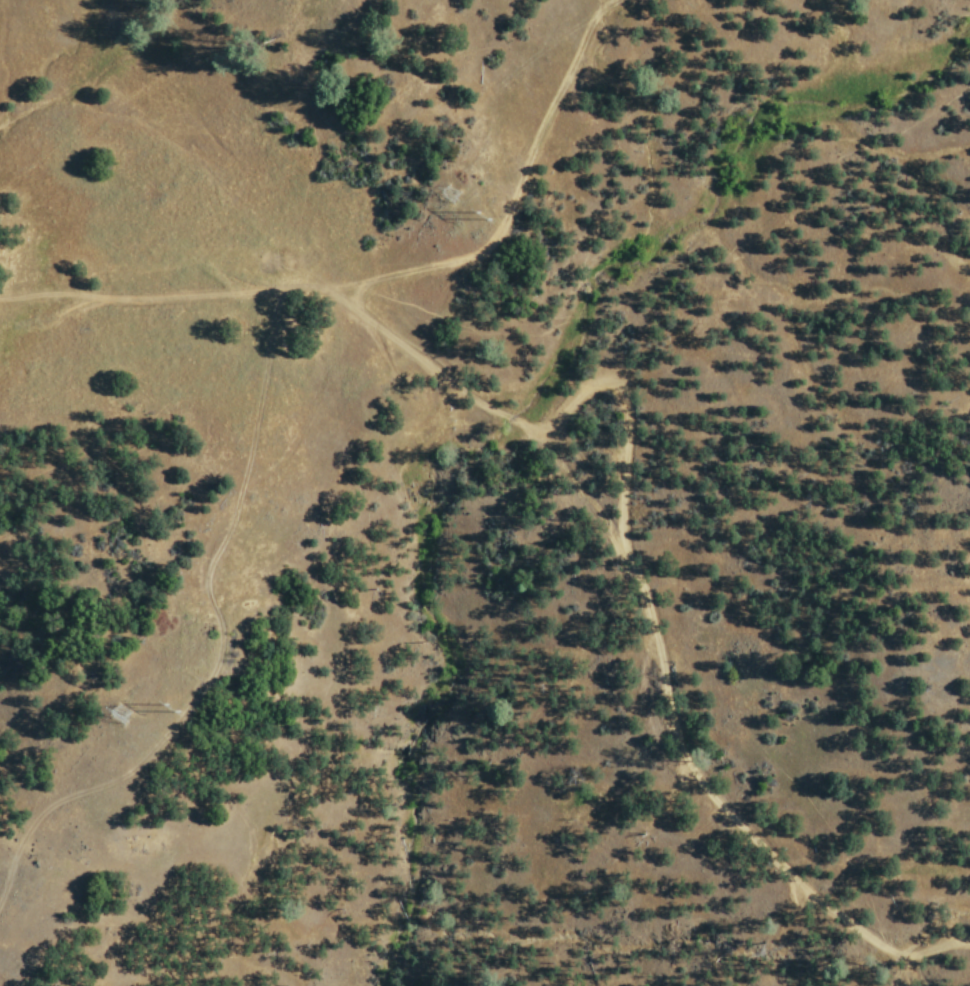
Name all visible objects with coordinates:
power tower: (453, 209)
power tower: (484, 230)
road: (169, 294)
road: (638, 590)
power tower: (179, 718)
power tower: (126, 720)

